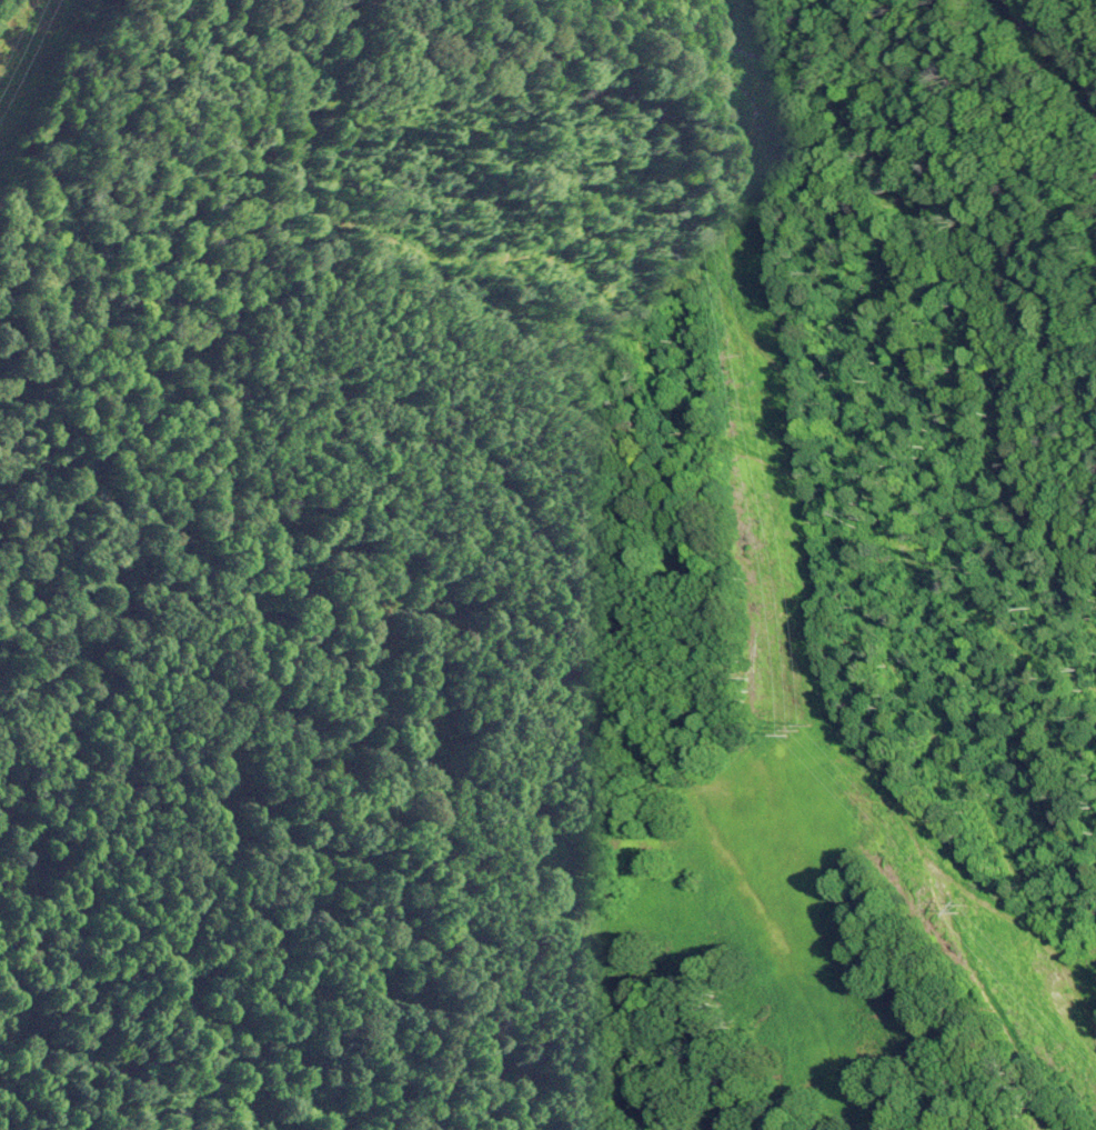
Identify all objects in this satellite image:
road: (1060, 42)

